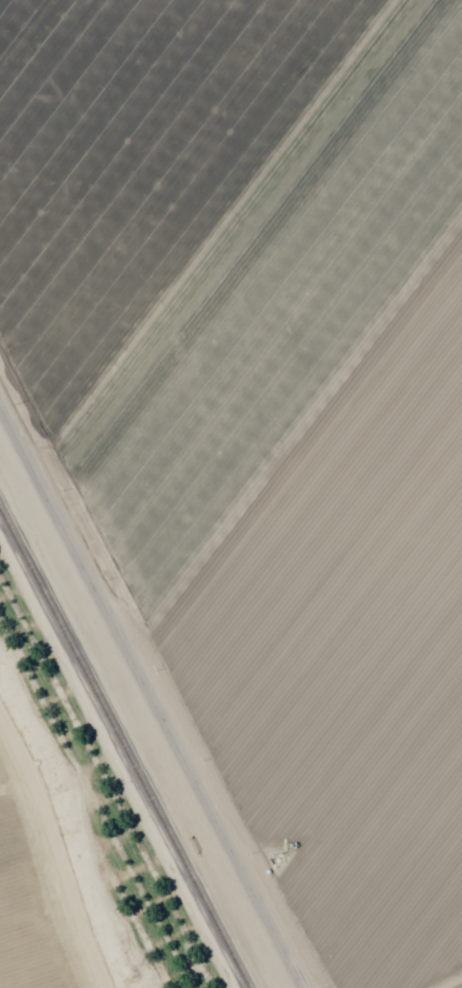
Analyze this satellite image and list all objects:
crop: (267, 410)
road: (157, 678)
railway: (123, 749)
crop: (46, 893)

